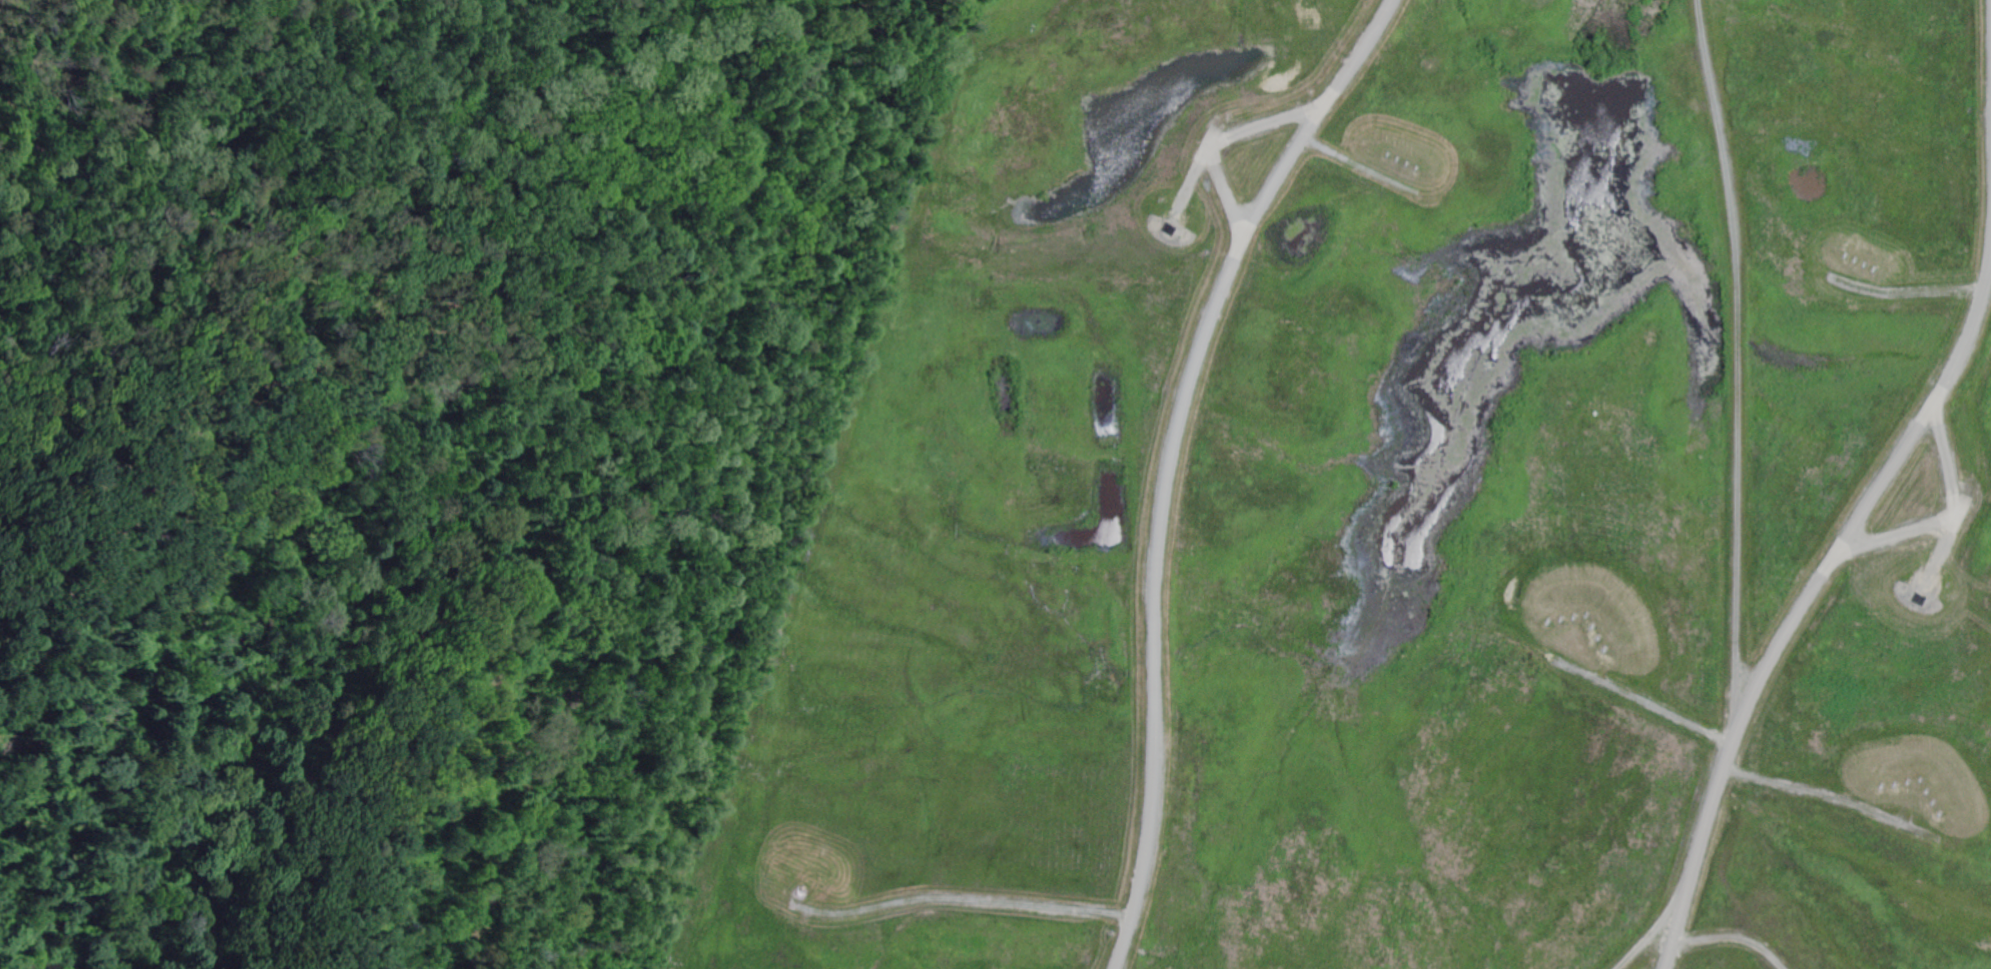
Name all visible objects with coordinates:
road: (1740, 350)
road: (1882, 483)
road: (1718, 786)
road: (1660, 924)

